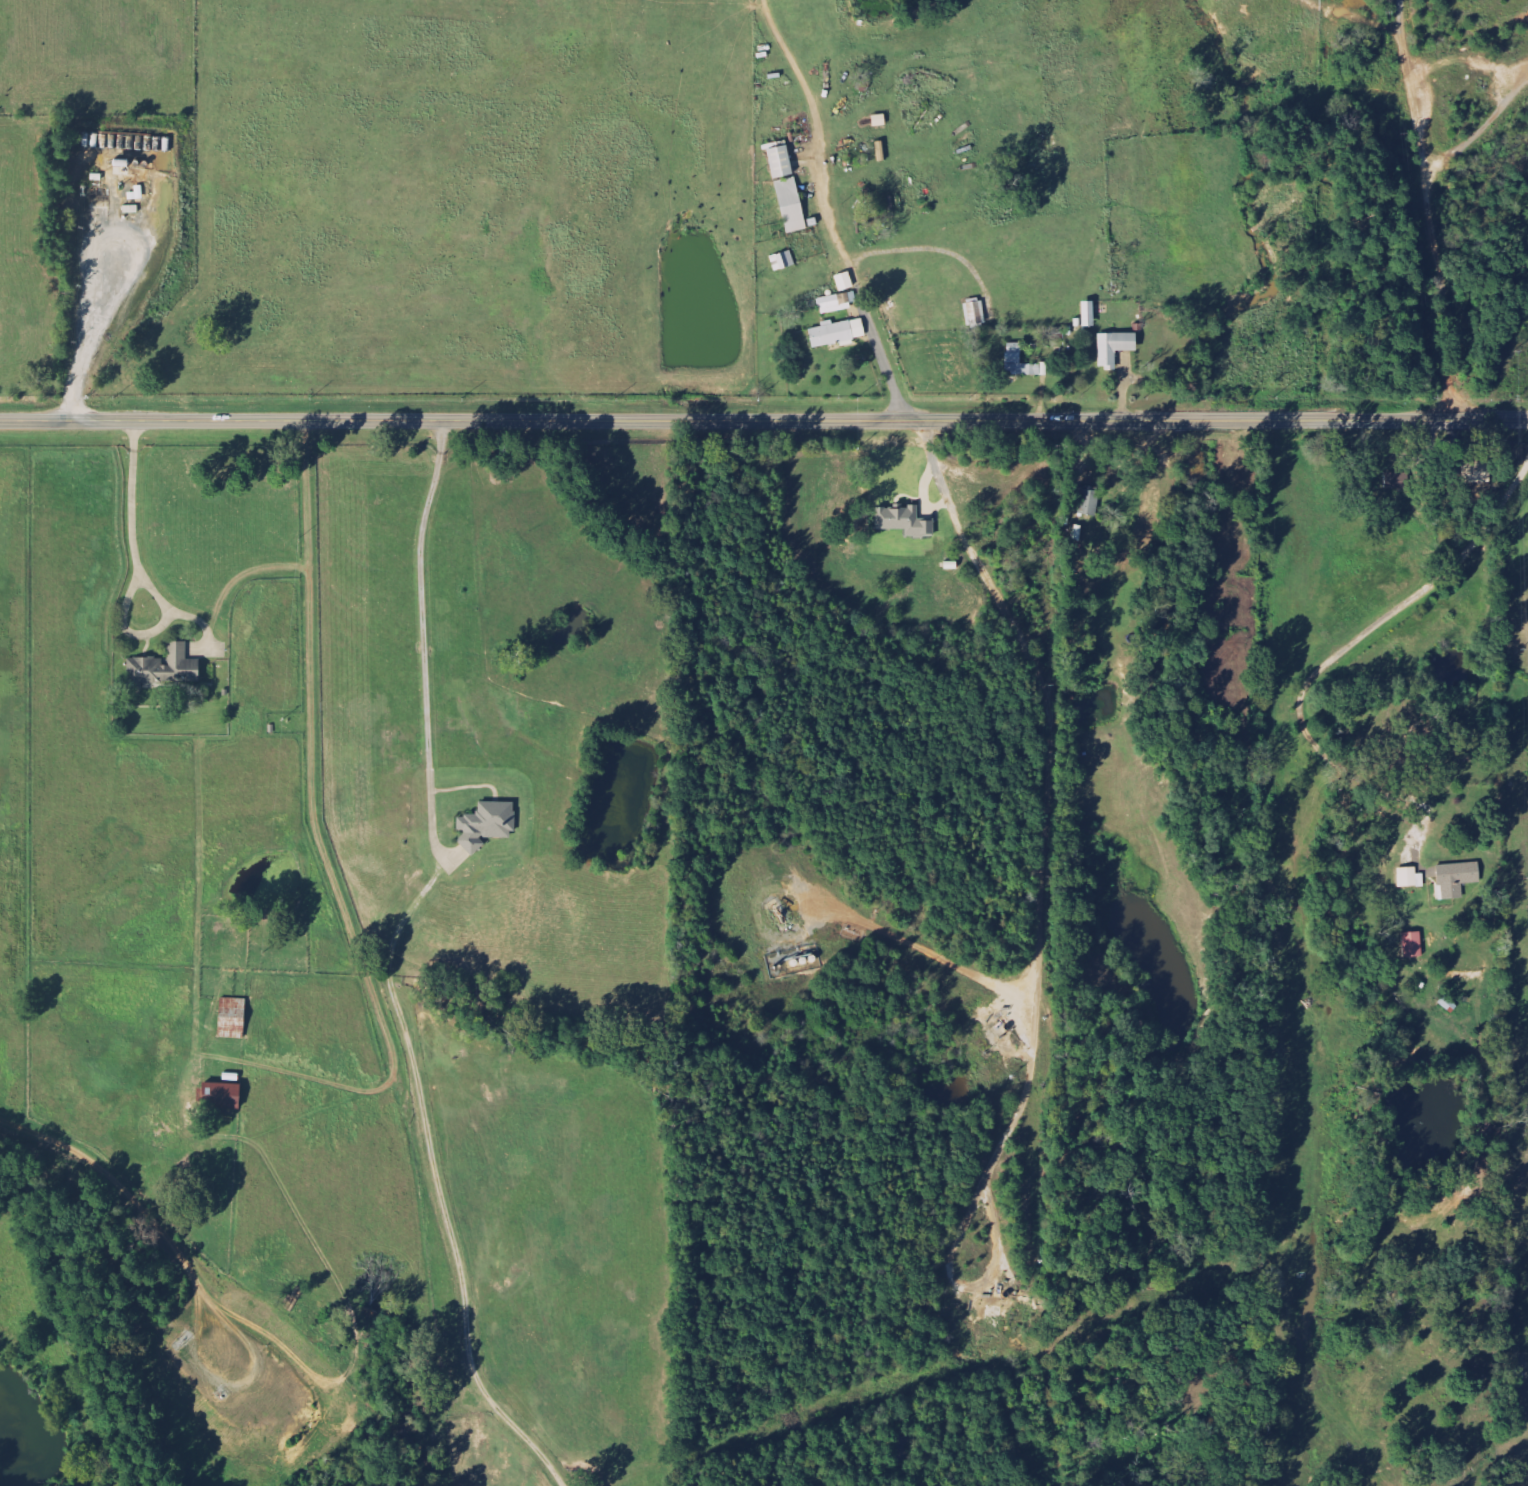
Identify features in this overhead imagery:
building: (789, 189)
building: (784, 261)
building: (845, 281)
building: (838, 302)
building: (976, 313)
building: (838, 333)
building: (1115, 348)
building: (1015, 353)
road: (764, 420)
building: (1478, 473)
building: (1398, 481)
building: (1089, 502)
building: (905, 522)
building: (165, 668)
building: (486, 825)
building: (1411, 877)
building: (1457, 877)
building: (1414, 944)
building: (1449, 1004)
building: (233, 1018)
building: (223, 1096)

